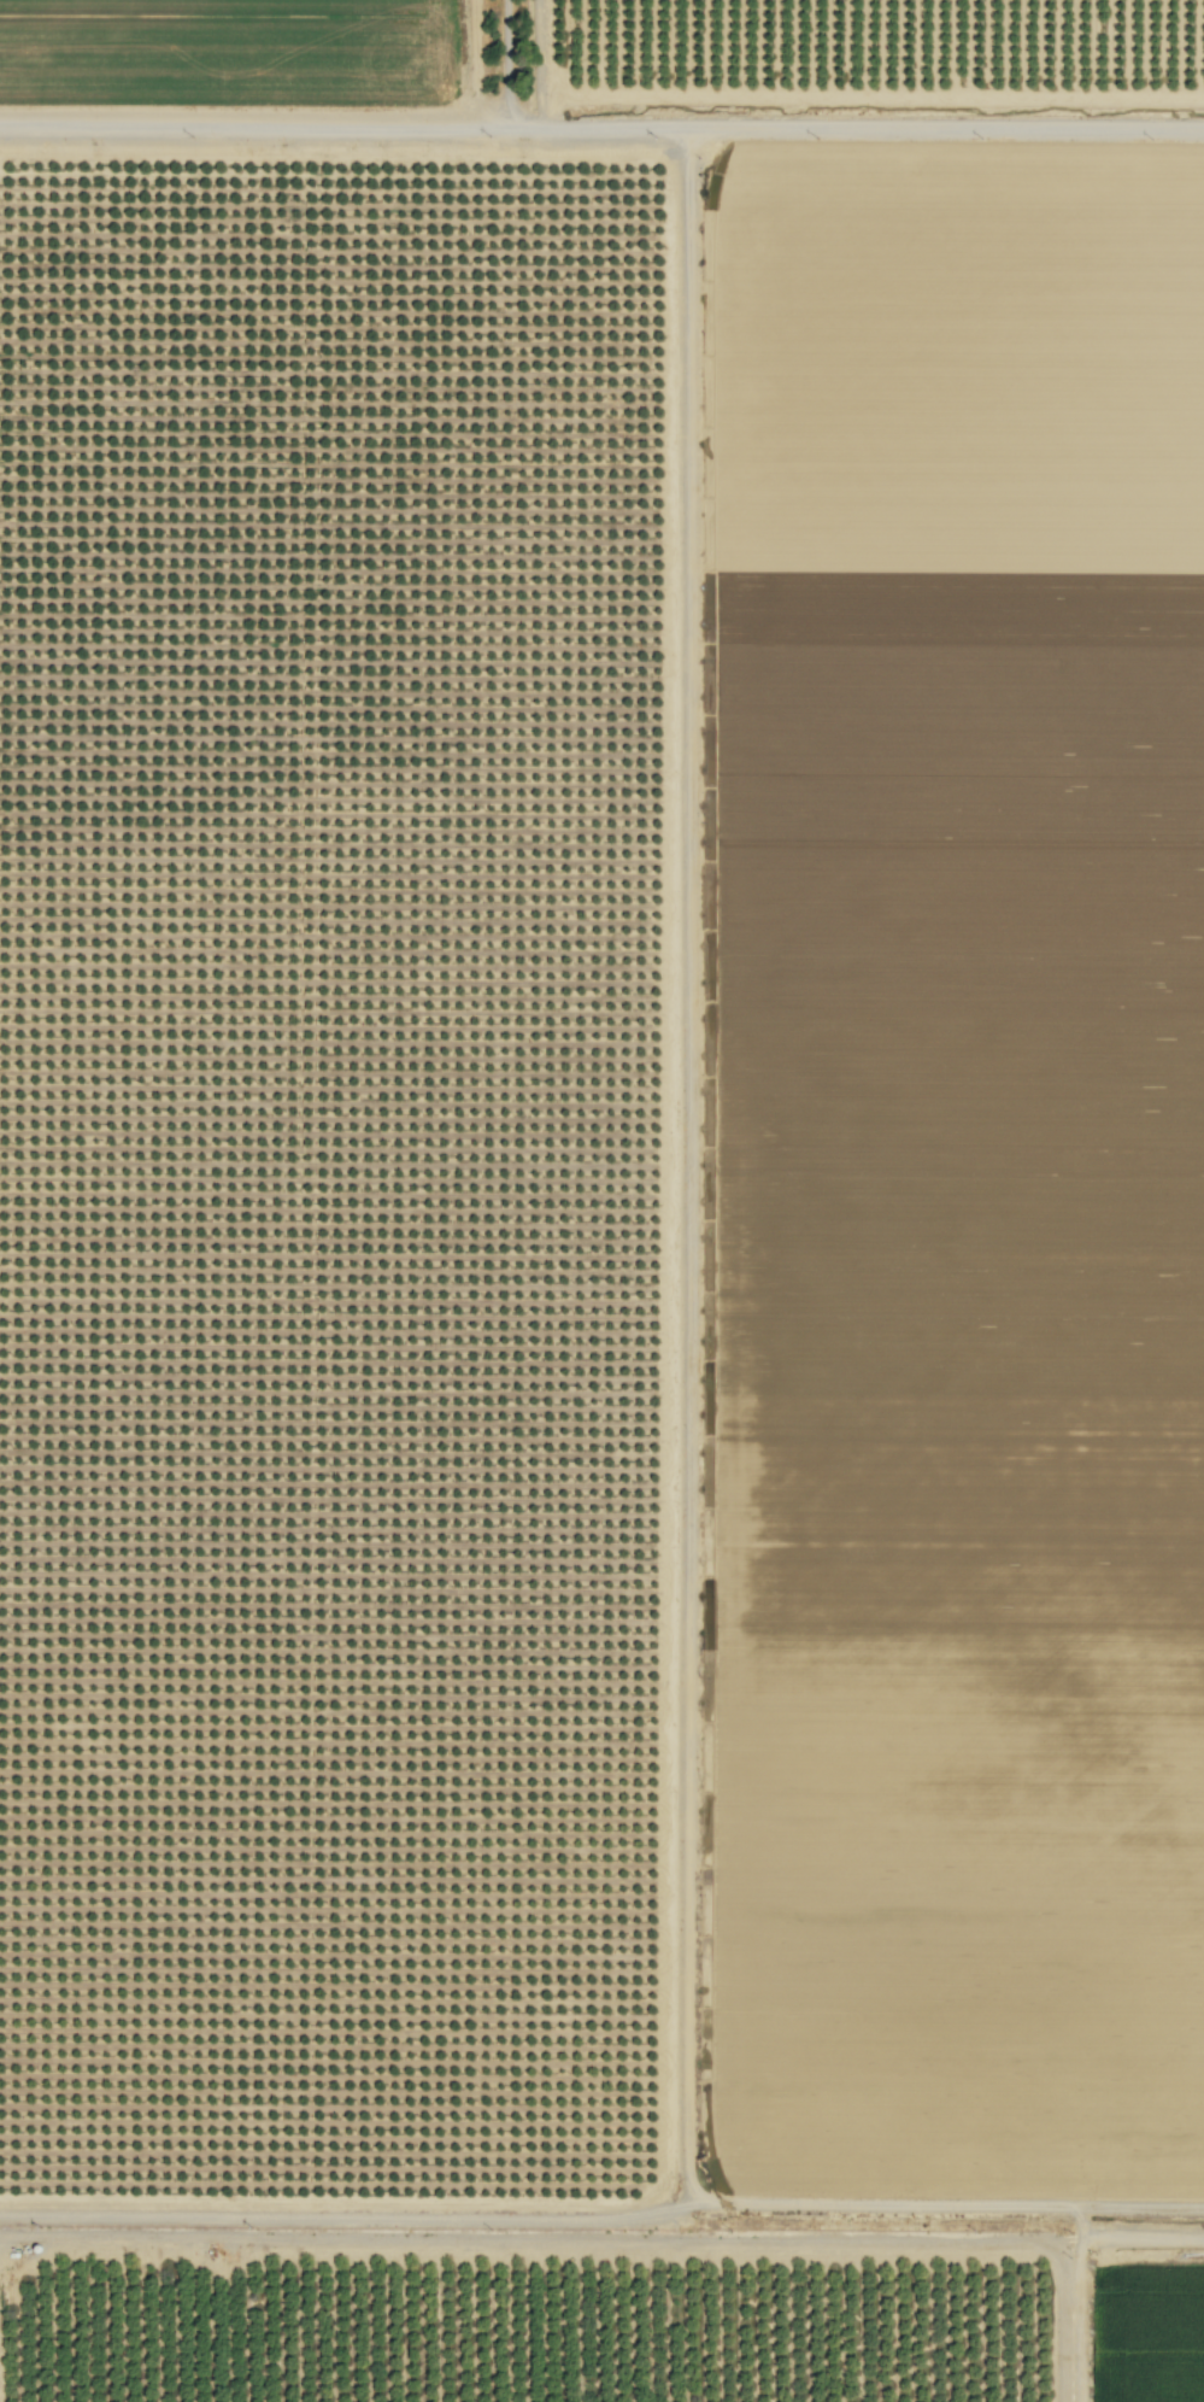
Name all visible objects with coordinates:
crop: (231, 52)
road: (545, 64)
road: (601, 128)

